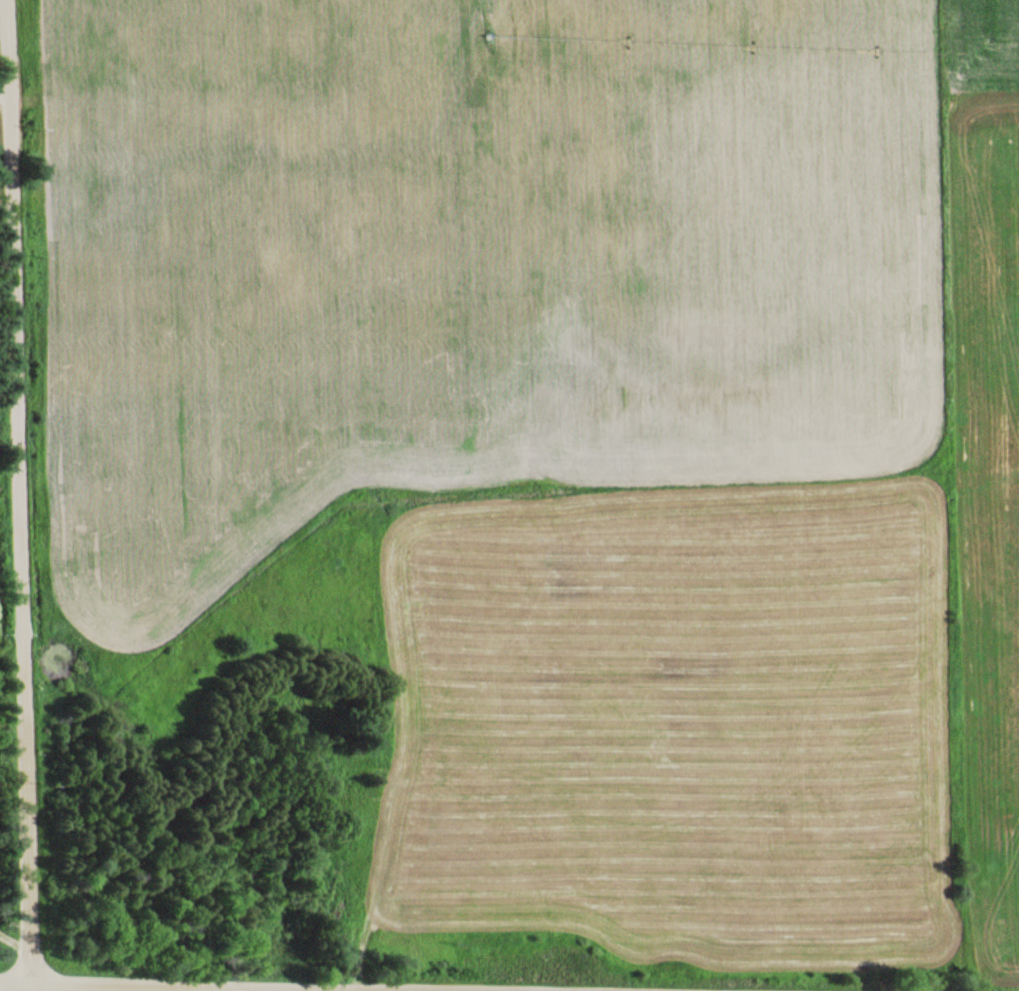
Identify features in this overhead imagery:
road: (16, 491)
road: (14, 981)
road: (210, 986)

